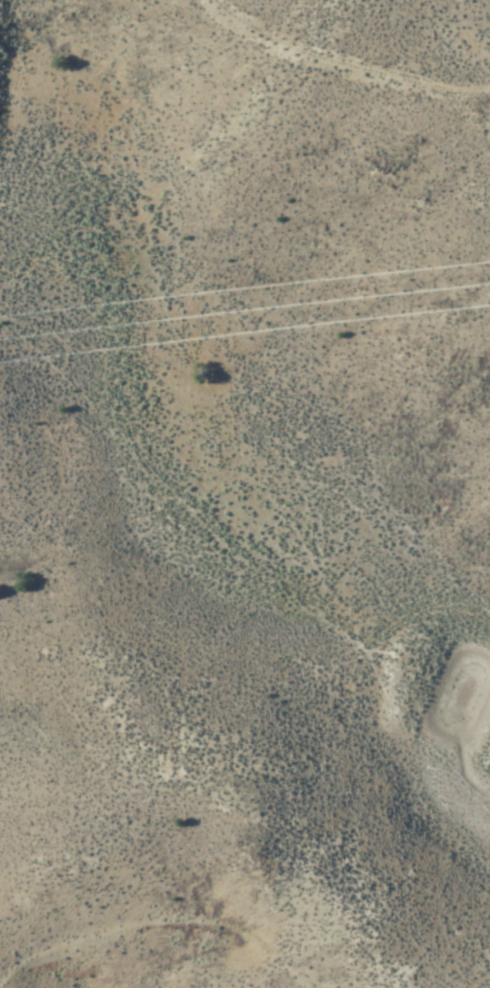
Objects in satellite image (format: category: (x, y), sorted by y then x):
road: (227, 513)

